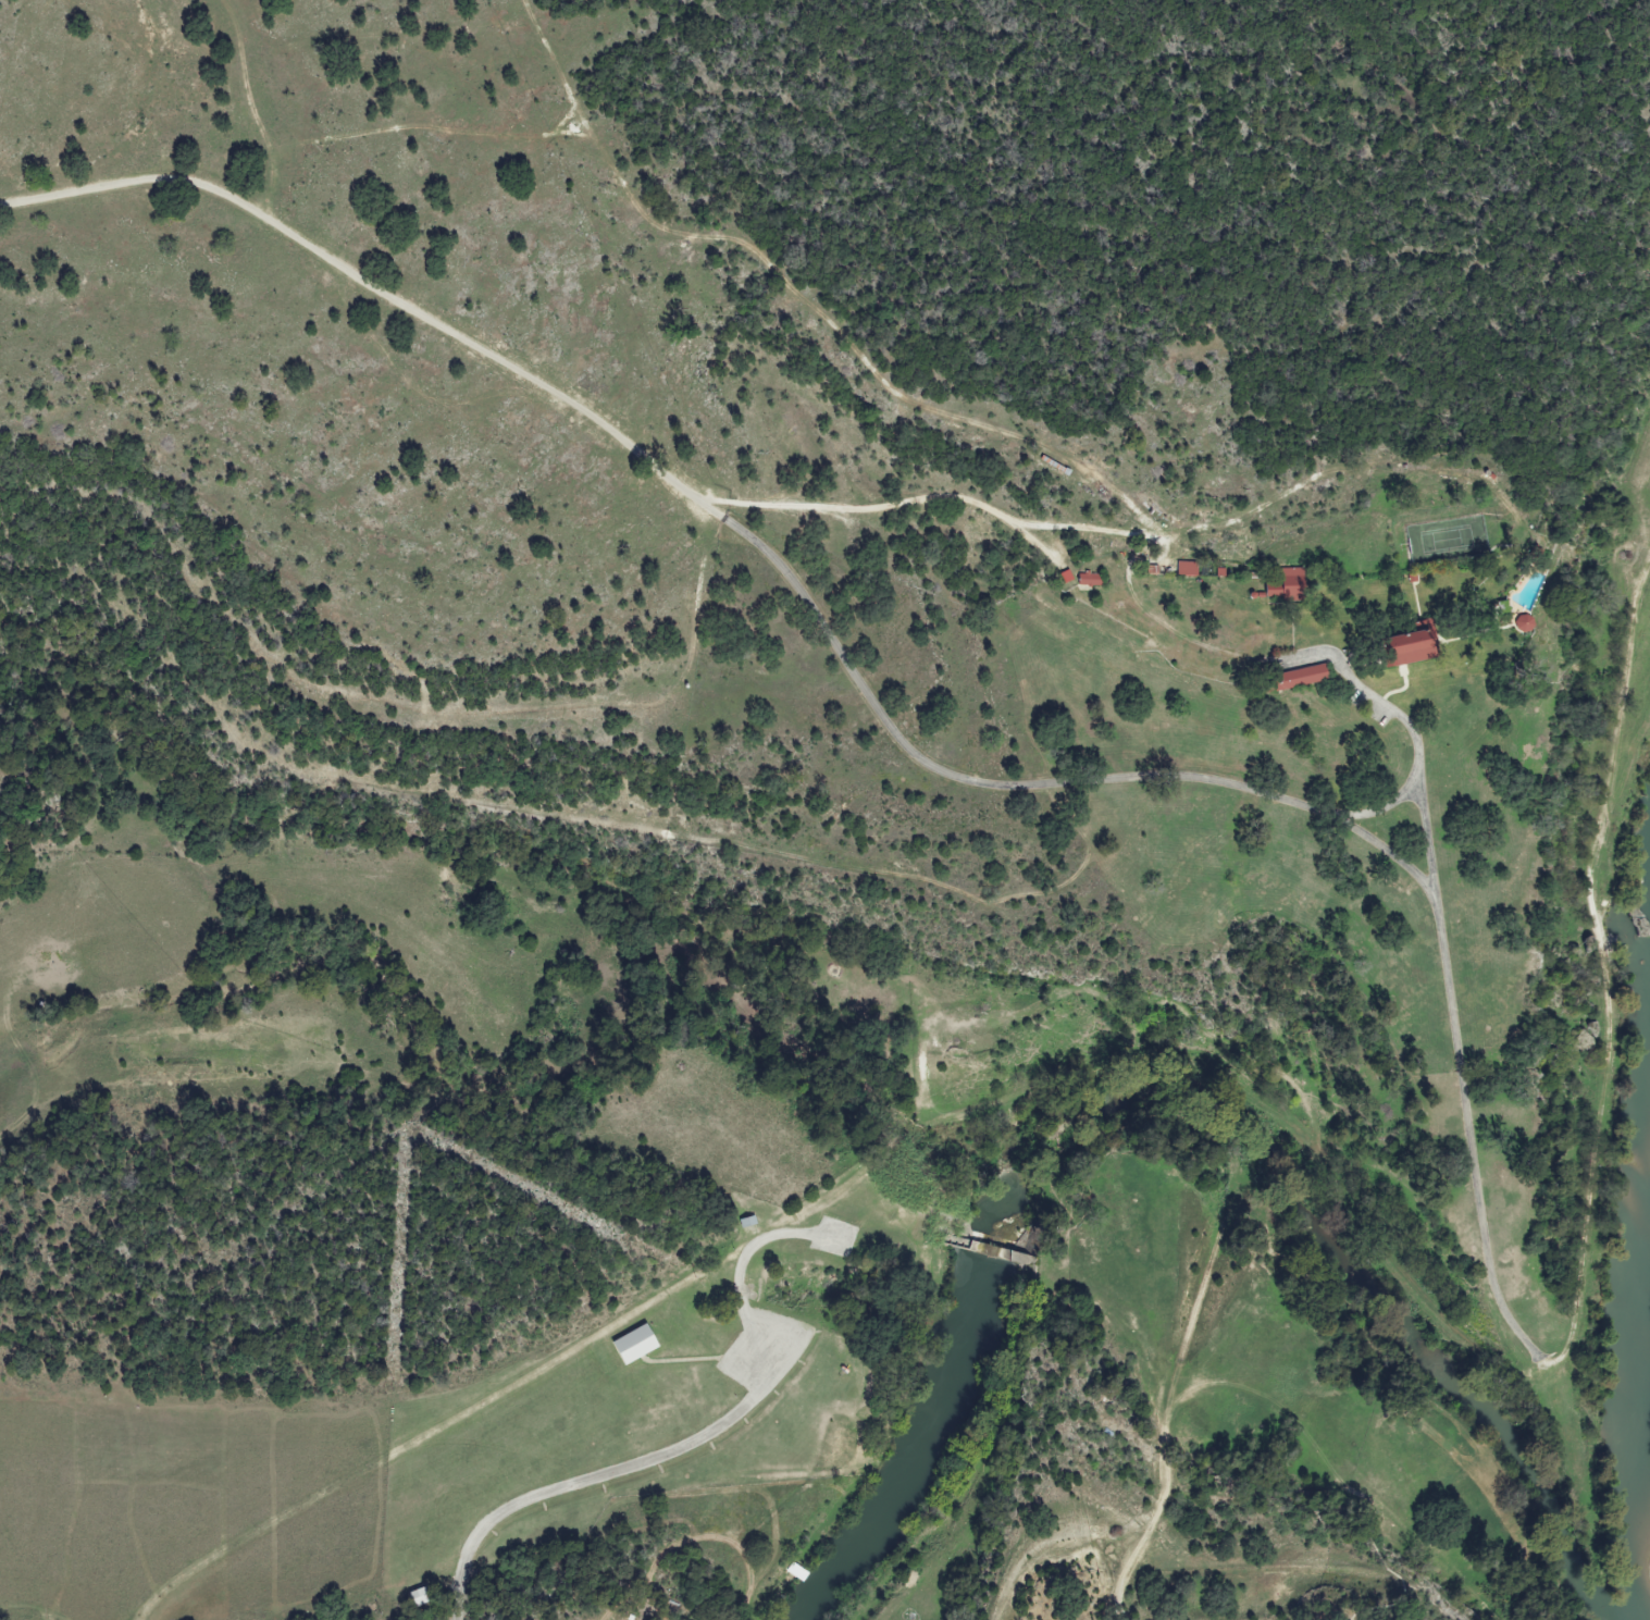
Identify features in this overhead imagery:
road: (368, 288)
building: (1189, 569)
building: (1067, 577)
building: (1090, 580)
building: (1289, 586)
building: (1417, 654)
building: (1303, 677)
road: (1111, 777)
building: (638, 1345)
river: (1629, 1417)
road: (698, 1438)
building: (420, 1597)

